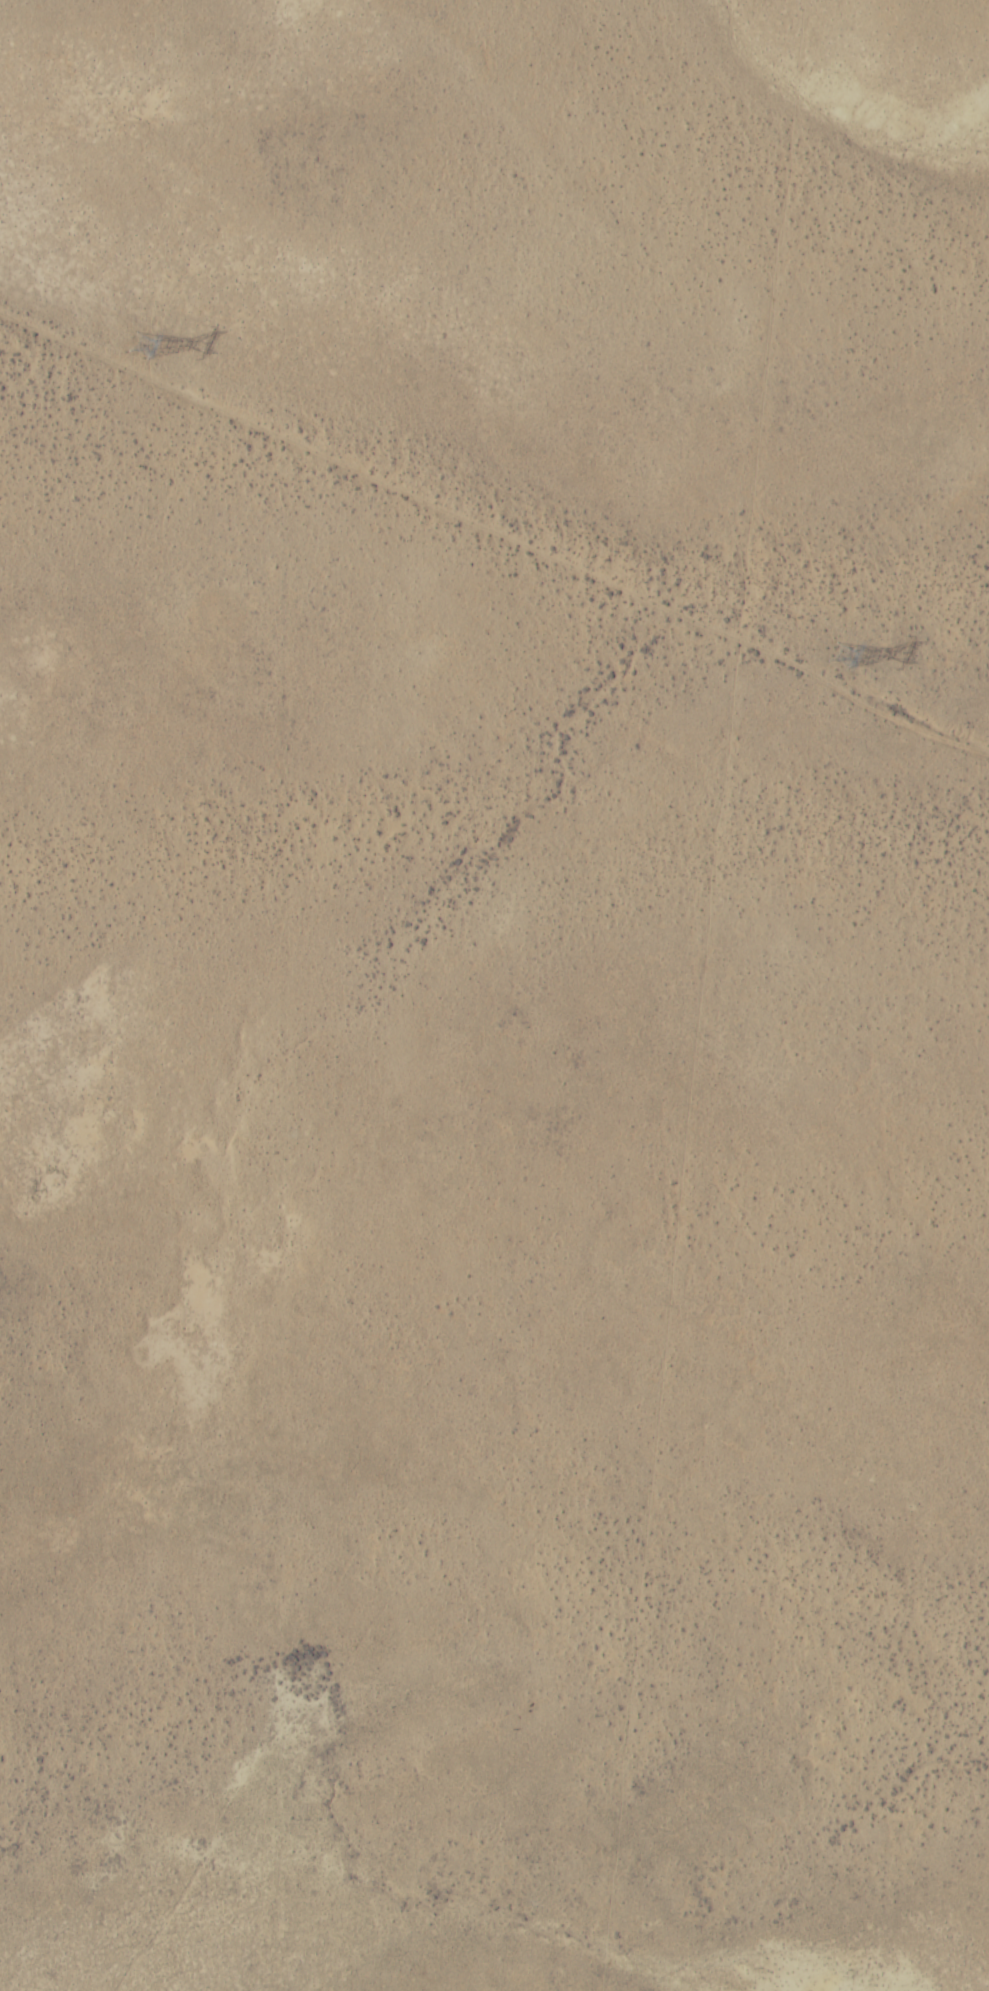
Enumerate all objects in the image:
power tower: (138, 339)
power tower: (841, 654)

